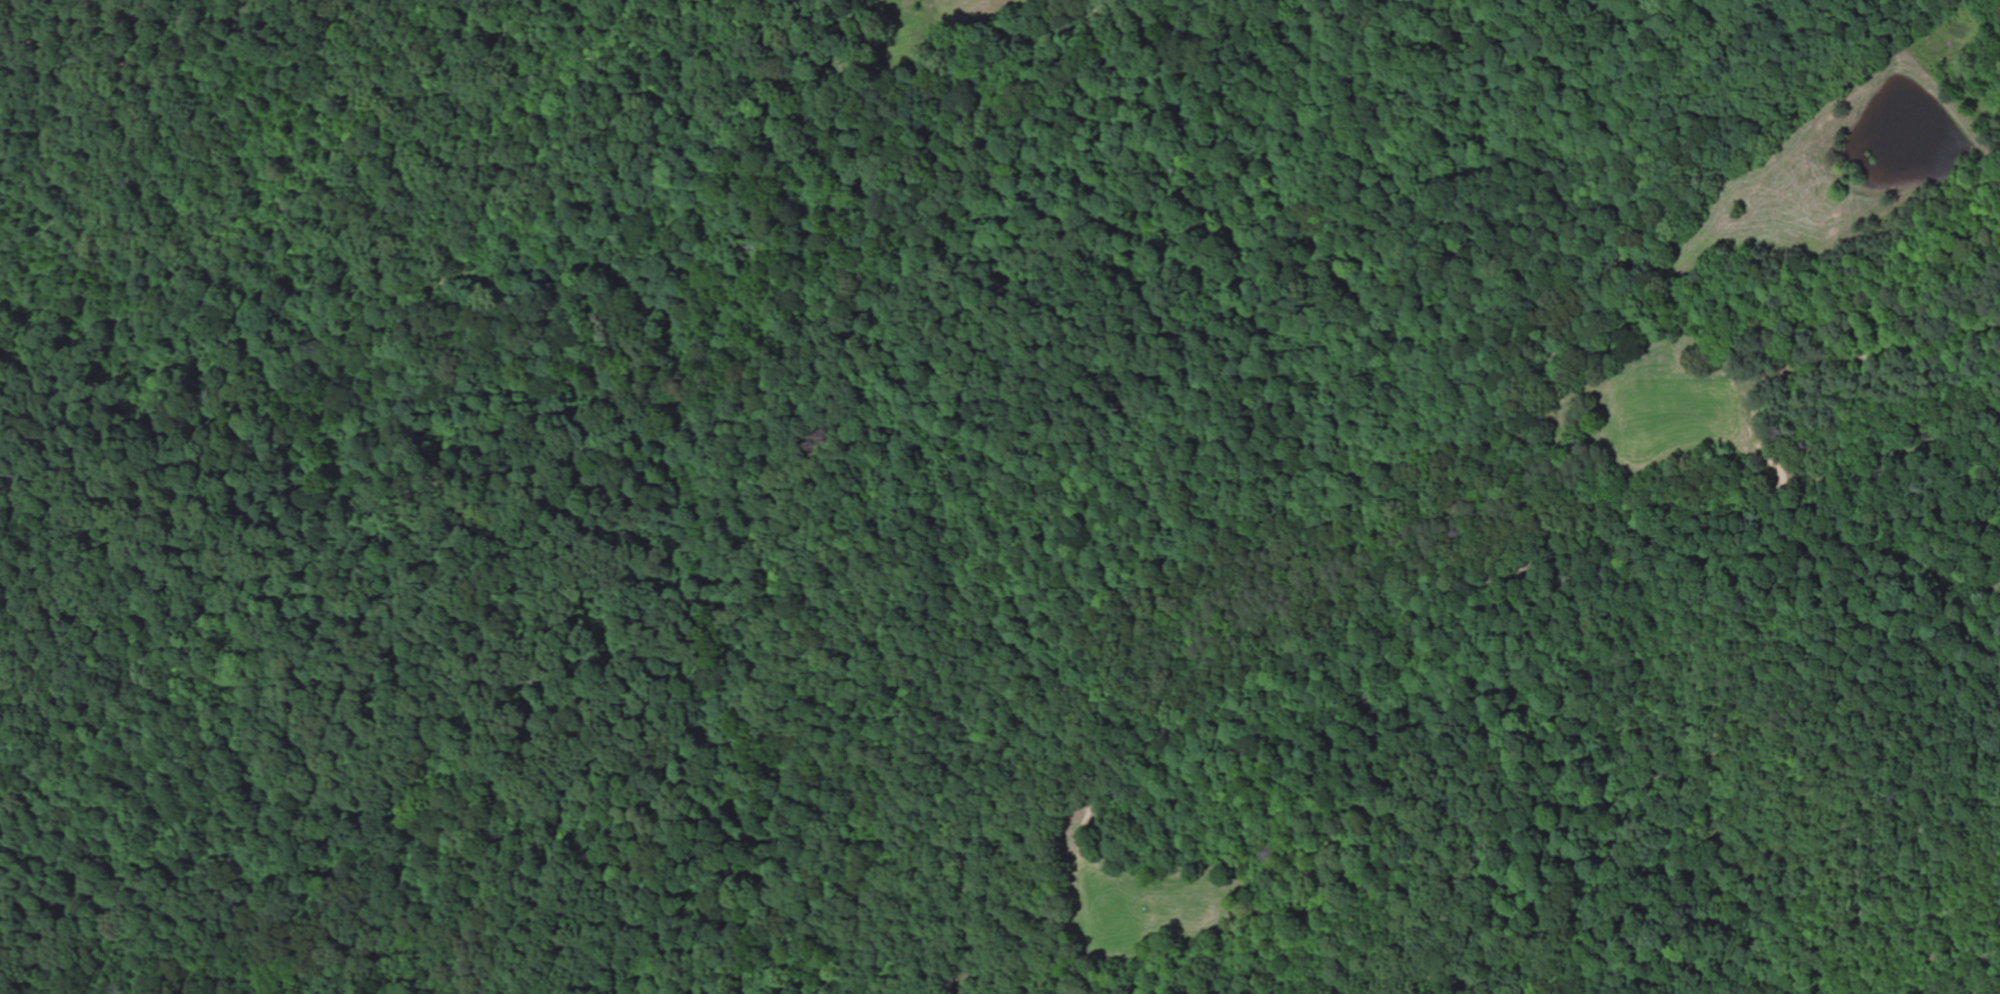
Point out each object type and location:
road: (1427, 639)

